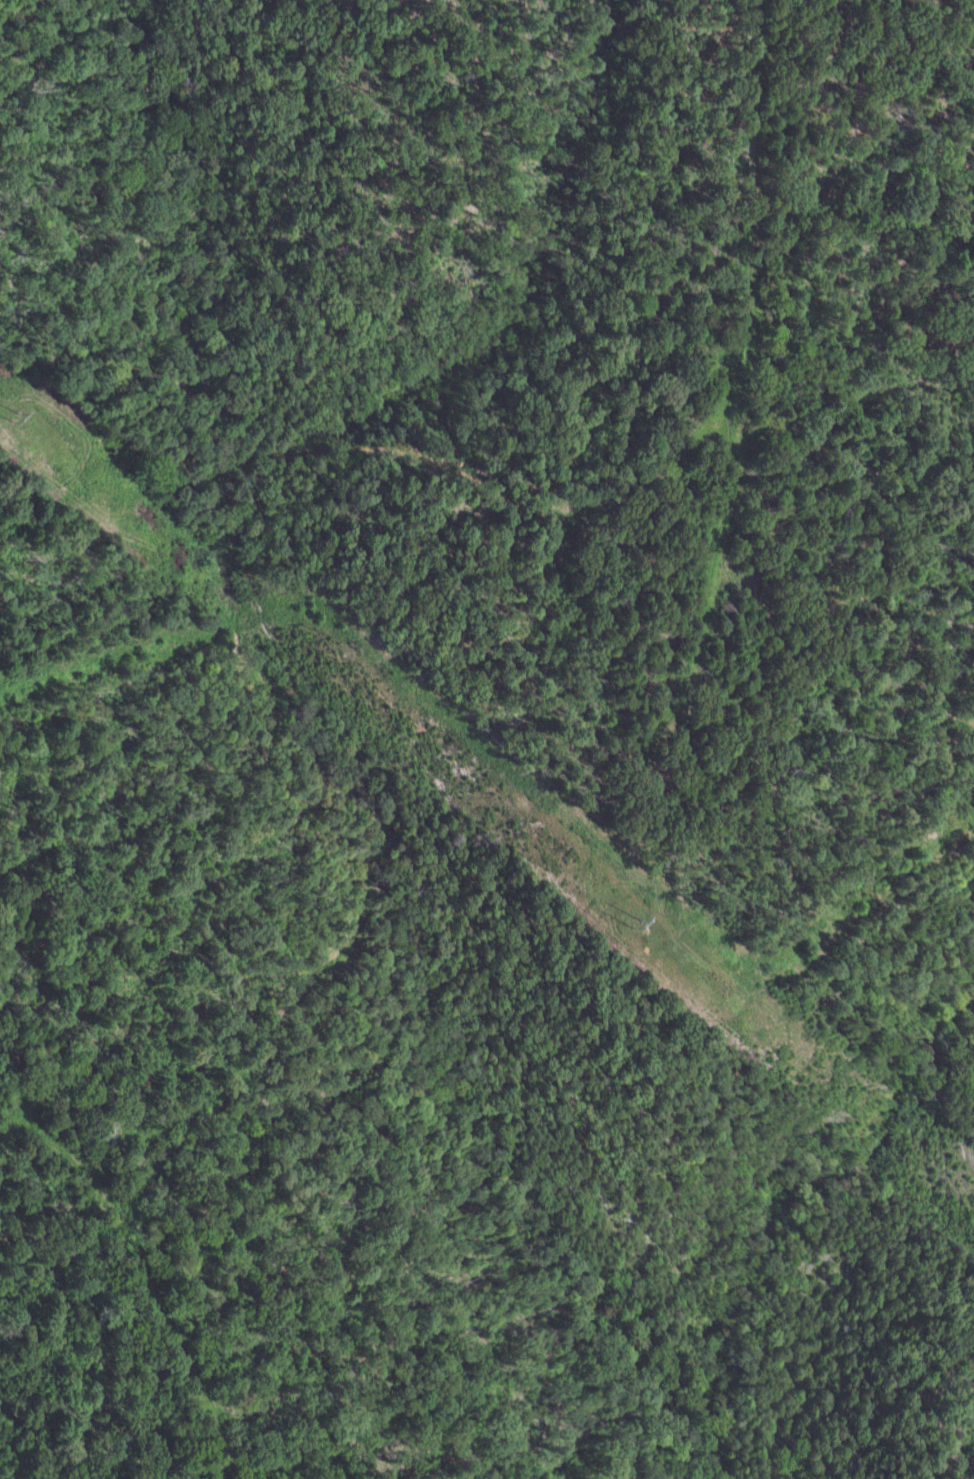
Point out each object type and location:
power tower: (17, 422)
power tower: (637, 926)

